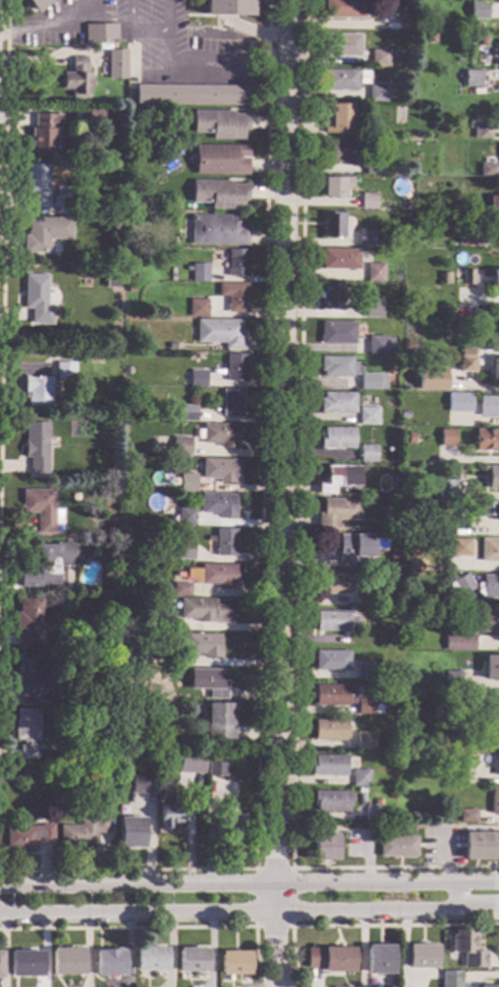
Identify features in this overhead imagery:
building: (498, 1)
building: (37, 4)
building: (228, 8)
building: (346, 10)
building: (478, 11)
building: (407, 22)
road: (47, 25)
road: (148, 31)
road: (255, 31)
building: (99, 33)
parking lot: (144, 40)
building: (342, 45)
building: (496, 53)
building: (380, 58)
road: (53, 60)
building: (116, 64)
road: (181, 73)
building: (77, 78)
building: (470, 78)
building: (340, 80)
building: (378, 93)
building: (192, 95)
building: (410, 96)
building: (95, 115)
building: (338, 119)
building: (220, 124)
building: (481, 131)
building: (44, 134)
building: (412, 146)
building: (340, 152)
building: (221, 160)
building: (374, 166)
building: (487, 170)
building: (35, 186)
building: (336, 186)
building: (219, 194)
building: (58, 196)
building: (368, 201)
road: (3, 203)
building: (494, 205)
building: (115, 224)
building: (332, 225)
building: (218, 230)
building: (45, 233)
building: (470, 236)
building: (366, 237)
building: (452, 241)
building: (340, 259)
building: (237, 262)
building: (199, 273)
building: (375, 273)
building: (463, 277)
building: (444, 278)
building: (495, 278)
building: (130, 289)
building: (234, 297)
building: (331, 297)
building: (36, 299)
building: (197, 308)
building: (373, 309)
building: (220, 333)
building: (337, 333)
building: (380, 346)
building: (217, 347)
building: (199, 357)
building: (466, 360)
building: (336, 366)
building: (234, 368)
building: (493, 368)
building: (64, 371)
building: (197, 378)
building: (431, 379)
building: (372, 382)
building: (61, 389)
building: (37, 391)
building: (231, 402)
building: (337, 403)
building: (459, 403)
building: (488, 406)
building: (186, 413)
building: (404, 415)
building: (367, 416)
building: (123, 429)
building: (220, 435)
building: (336, 438)
building: (446, 438)
building: (409, 439)
building: (486, 439)
building: (36, 447)
building: (180, 447)
building: (367, 454)
building: (198, 466)
building: (364, 466)
building: (220, 470)
building: (490, 477)
building: (339, 478)
building: (173, 481)
building: (187, 482)
building: (445, 490)
road: (281, 494)
building: (398, 495)
building: (74, 497)
building: (218, 505)
building: (41, 509)
building: (436, 509)
building: (482, 510)
building: (337, 512)
building: (185, 517)
road: (297, 537)
building: (225, 543)
building: (353, 547)
building: (458, 547)
building: (184, 551)
building: (489, 551)
building: (171, 557)
road: (259, 561)
building: (48, 565)
building: (218, 576)
building: (446, 578)
building: (333, 584)
building: (459, 586)
building: (488, 587)
building: (180, 589)
building: (93, 591)
building: (360, 600)
building: (204, 611)
building: (29, 622)
building: (332, 622)
building: (486, 622)
building: (162, 623)
building: (379, 640)
building: (462, 643)
building: (203, 645)
building: (128, 654)
building: (331, 661)
building: (491, 668)
building: (364, 671)
building: (27, 678)
building: (452, 681)
building: (208, 682)
building: (334, 696)
building: (90, 704)
building: (200, 704)
building: (364, 707)
building: (88, 710)
building: (123, 720)
building: (219, 722)
building: (495, 723)
building: (330, 730)
building: (27, 732)
building: (364, 741)
building: (183, 756)
building: (474, 760)
building: (498, 761)
building: (328, 766)
building: (98, 768)
building: (106, 769)
building: (216, 769)
building: (188, 770)
building: (196, 773)
building: (360, 777)
building: (142, 784)
building: (330, 801)
building: (494, 801)
building: (376, 802)
building: (170, 812)
building: (372, 813)
building: (468, 815)
building: (233, 826)
building: (83, 832)
building: (131, 833)
building: (28, 836)
building: (481, 846)
building: (324, 847)
building: (397, 847)
road: (249, 884)
road: (453, 897)
road: (249, 912)
road: (363, 925)
road: (254, 926)
road: (157, 927)
building: (463, 942)
building: (422, 957)
building: (151, 959)
building: (193, 960)
building: (330, 960)
building: (379, 960)
building: (67, 962)
building: (109, 963)
building: (234, 963)
building: (25, 964)
building: (0, 965)
building: (451, 979)
building: (338, 986)
building: (488, 986)

